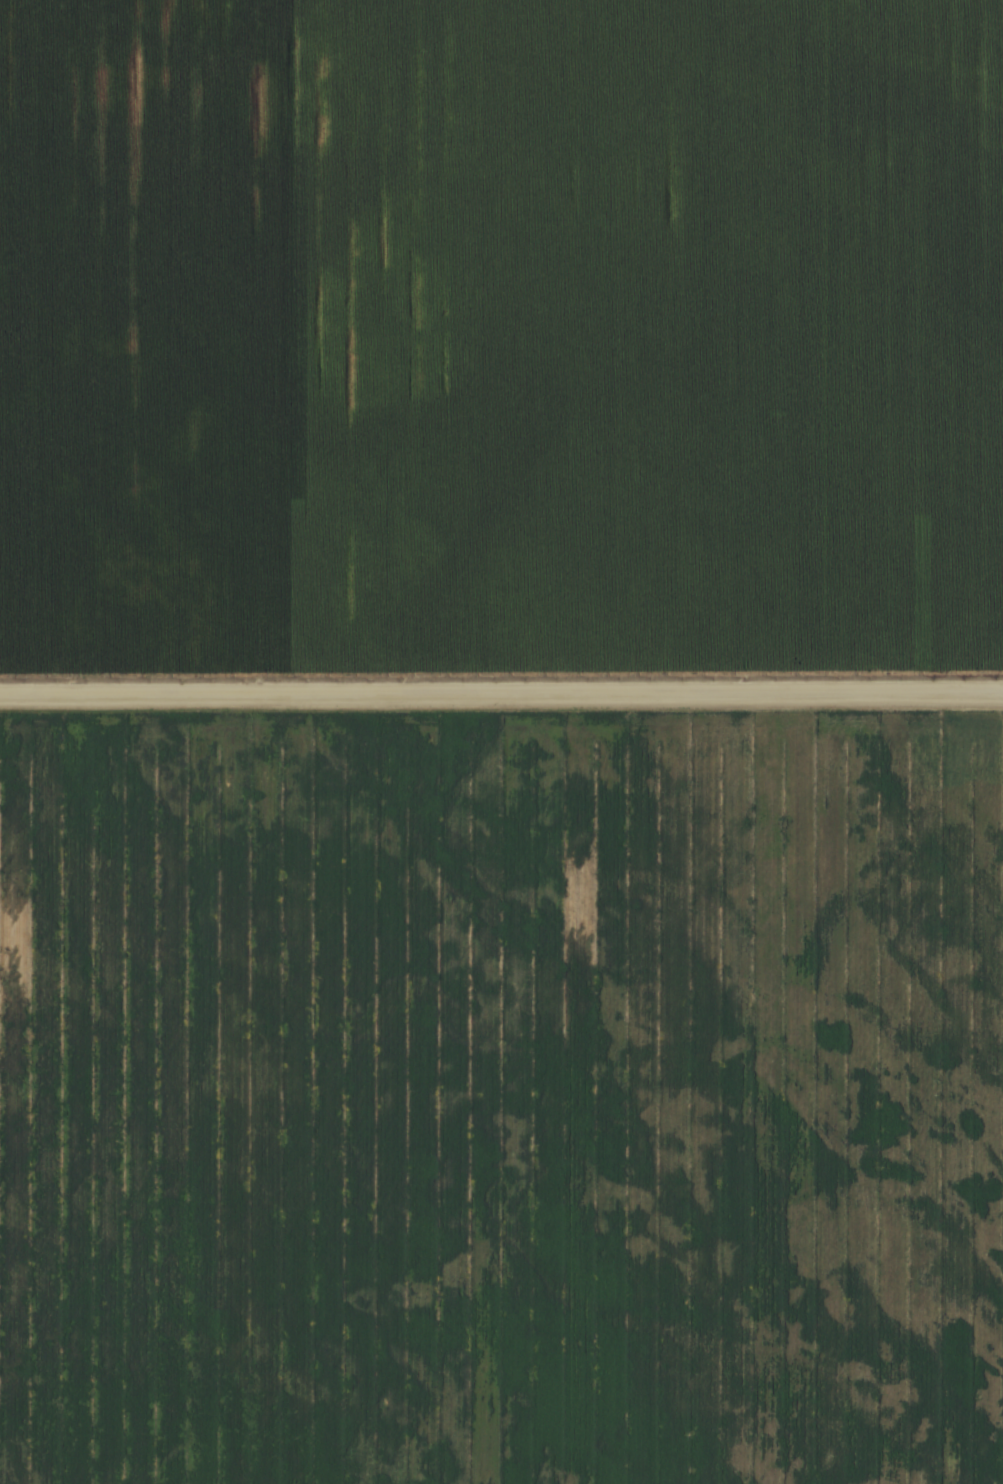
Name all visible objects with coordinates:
road: (501, 689)

